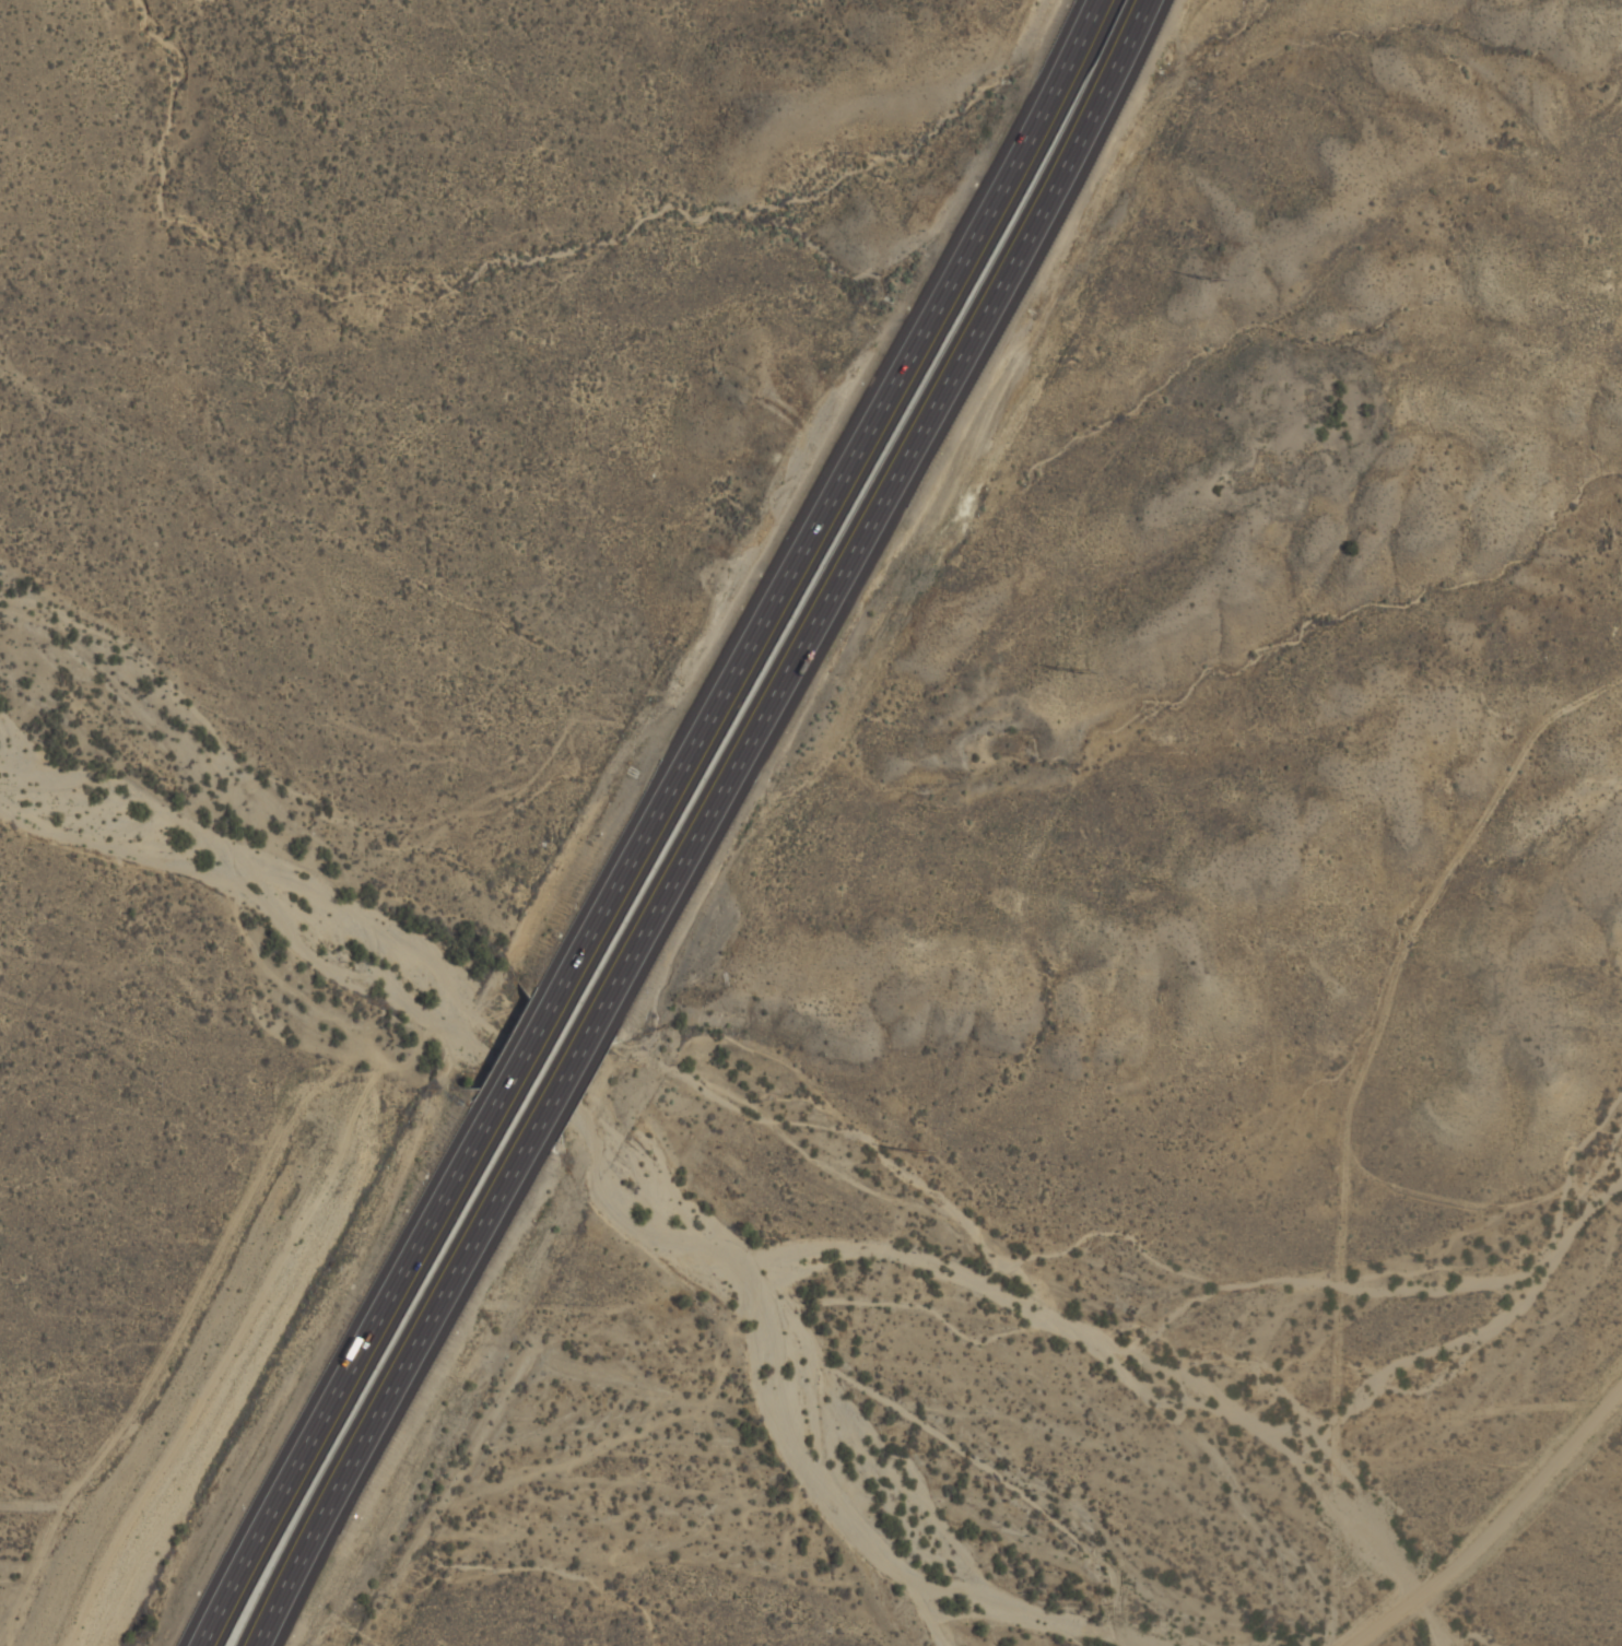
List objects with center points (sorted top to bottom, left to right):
road: (830, 497)
road: (882, 518)
road: (528, 1039)
road: (573, 1078)
road: (349, 1371)
road: (398, 1387)
road: (1493, 1520)

